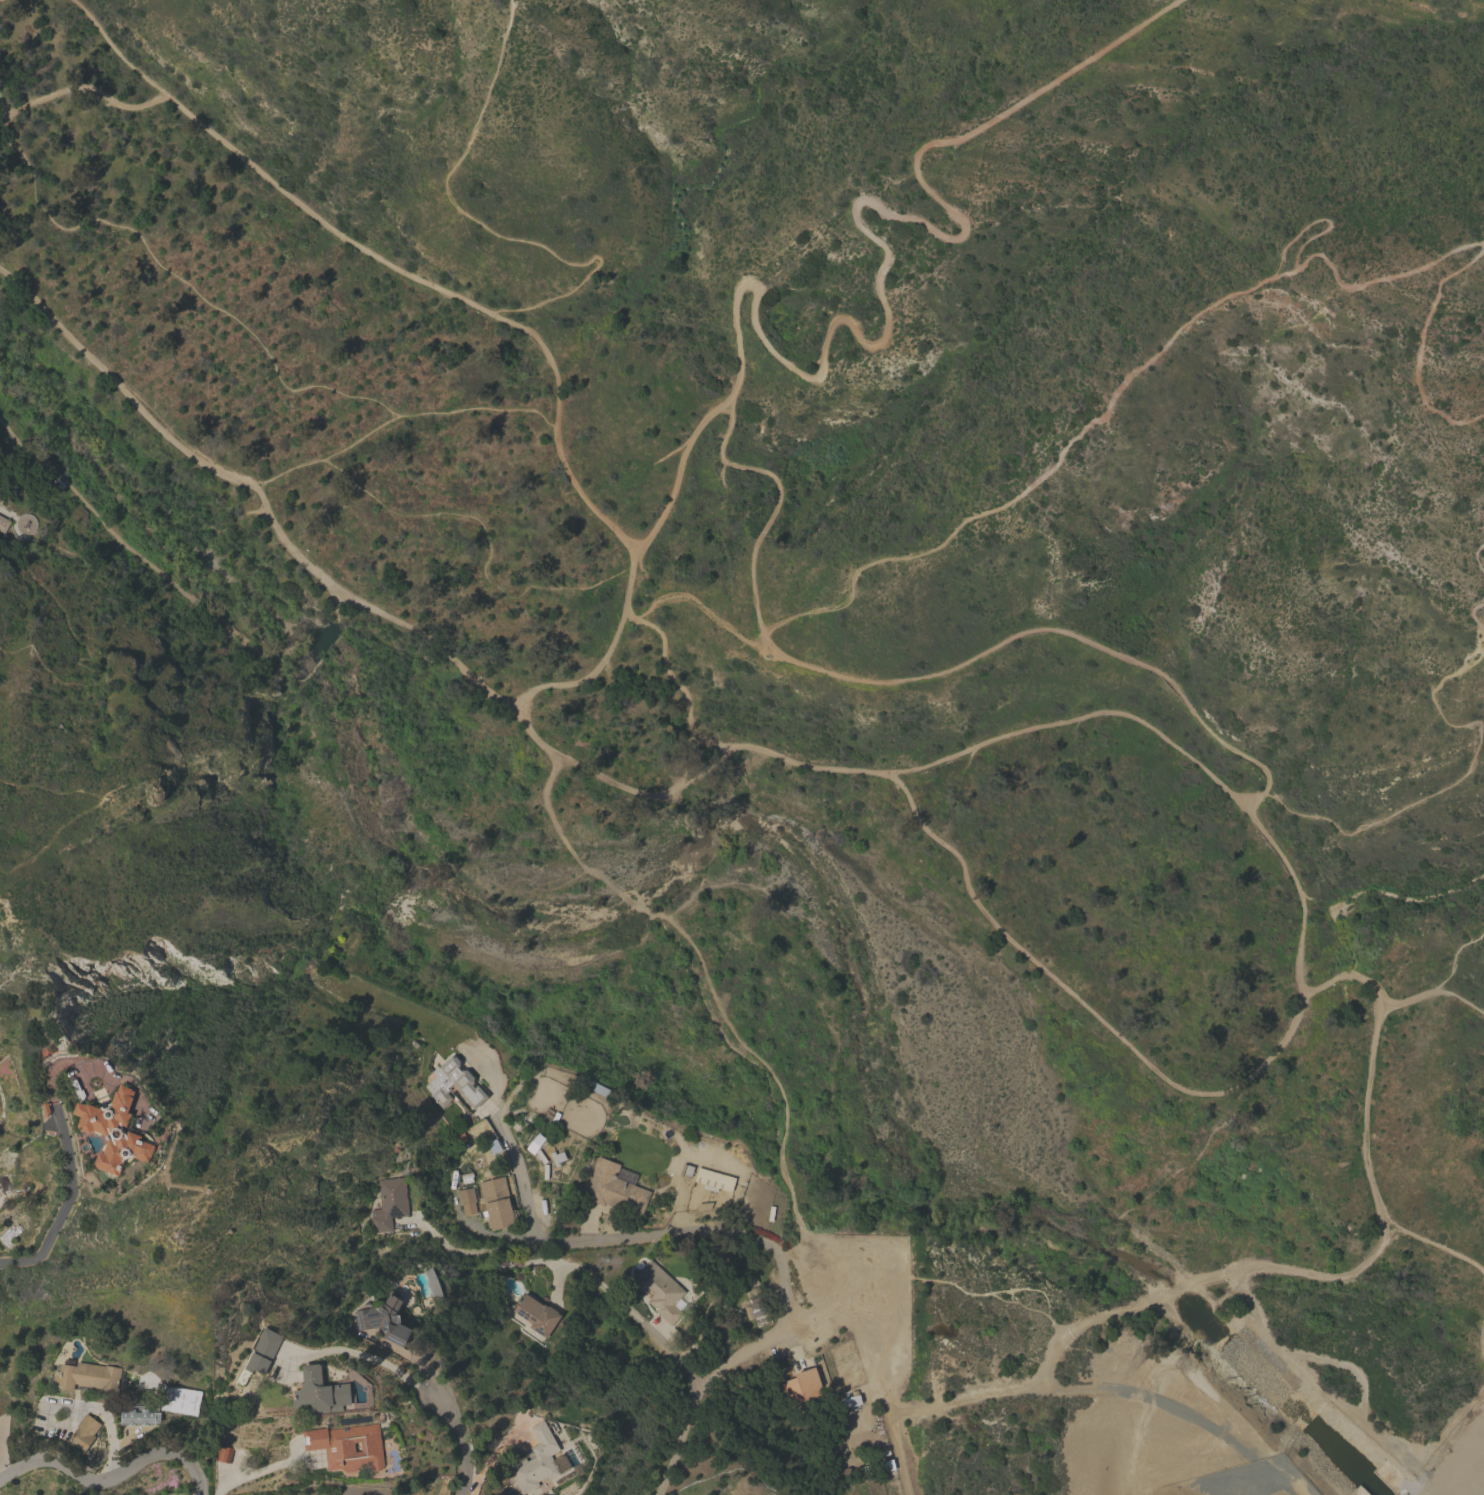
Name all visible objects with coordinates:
road: (77, 91)
road: (4, 103)
road: (477, 221)
road: (386, 264)
road: (203, 302)
road: (854, 331)
road: (1420, 350)
road: (1113, 400)
road: (400, 418)
road: (244, 514)
building: (3, 522)
road: (13, 526)
road: (1483, 528)
road: (486, 533)
road: (1476, 558)
road: (197, 598)
road: (76, 661)
road: (670, 680)
road: (917, 681)
road: (1175, 747)
road: (1471, 772)
road: (96, 810)
road: (1383, 899)
road: (999, 932)
road: (1456, 954)
road: (704, 972)
road: (1438, 988)
road: (68, 1062)
building: (454, 1085)
building: (115, 1131)
road: (521, 1185)
building: (613, 1189)
road: (68, 1199)
building: (489, 1203)
road: (503, 1235)
road: (1439, 1247)
road: (472, 1251)
road: (782, 1282)
building: (658, 1291)
road: (628, 1313)
building: (535, 1316)
road: (860, 1320)
building: (377, 1322)
road: (1482, 1341)
road: (360, 1356)
building: (256, 1364)
building: (88, 1376)
building: (804, 1386)
building: (320, 1393)
road: (1358, 1394)
building: (184, 1403)
building: (140, 1417)
building: (84, 1434)
road: (460, 1439)
building: (347, 1447)
road: (898, 1456)
building: (540, 1463)
dam: (1462, 1467)
road: (250, 1475)
road: (110, 1479)

